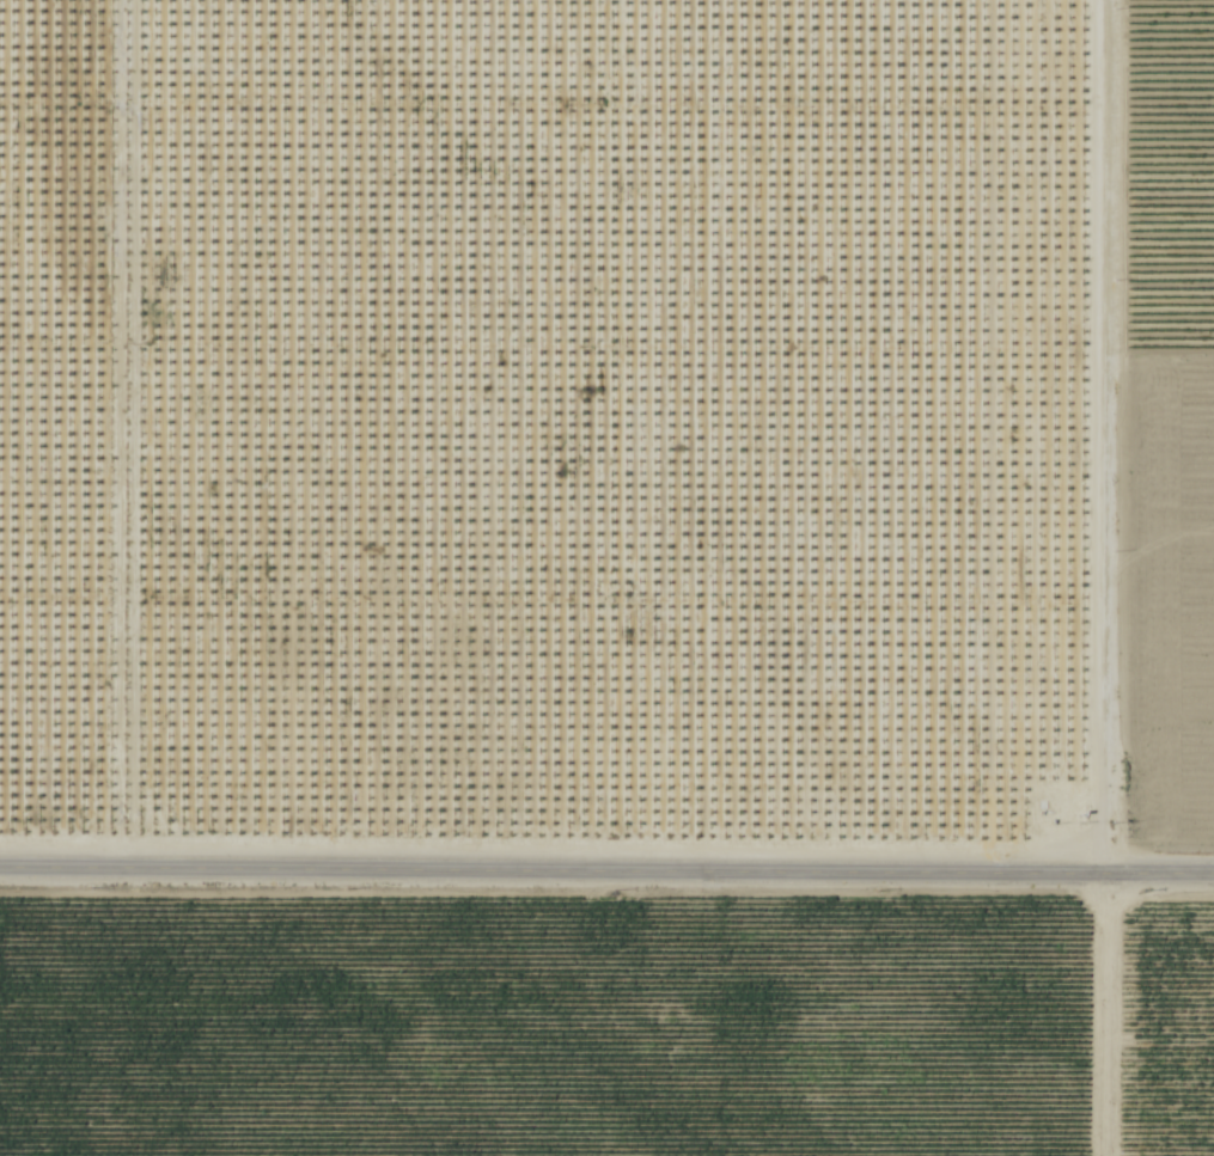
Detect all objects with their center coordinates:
road: (108, 434)
road: (1102, 577)
road: (606, 871)
crop: (537, 1027)

